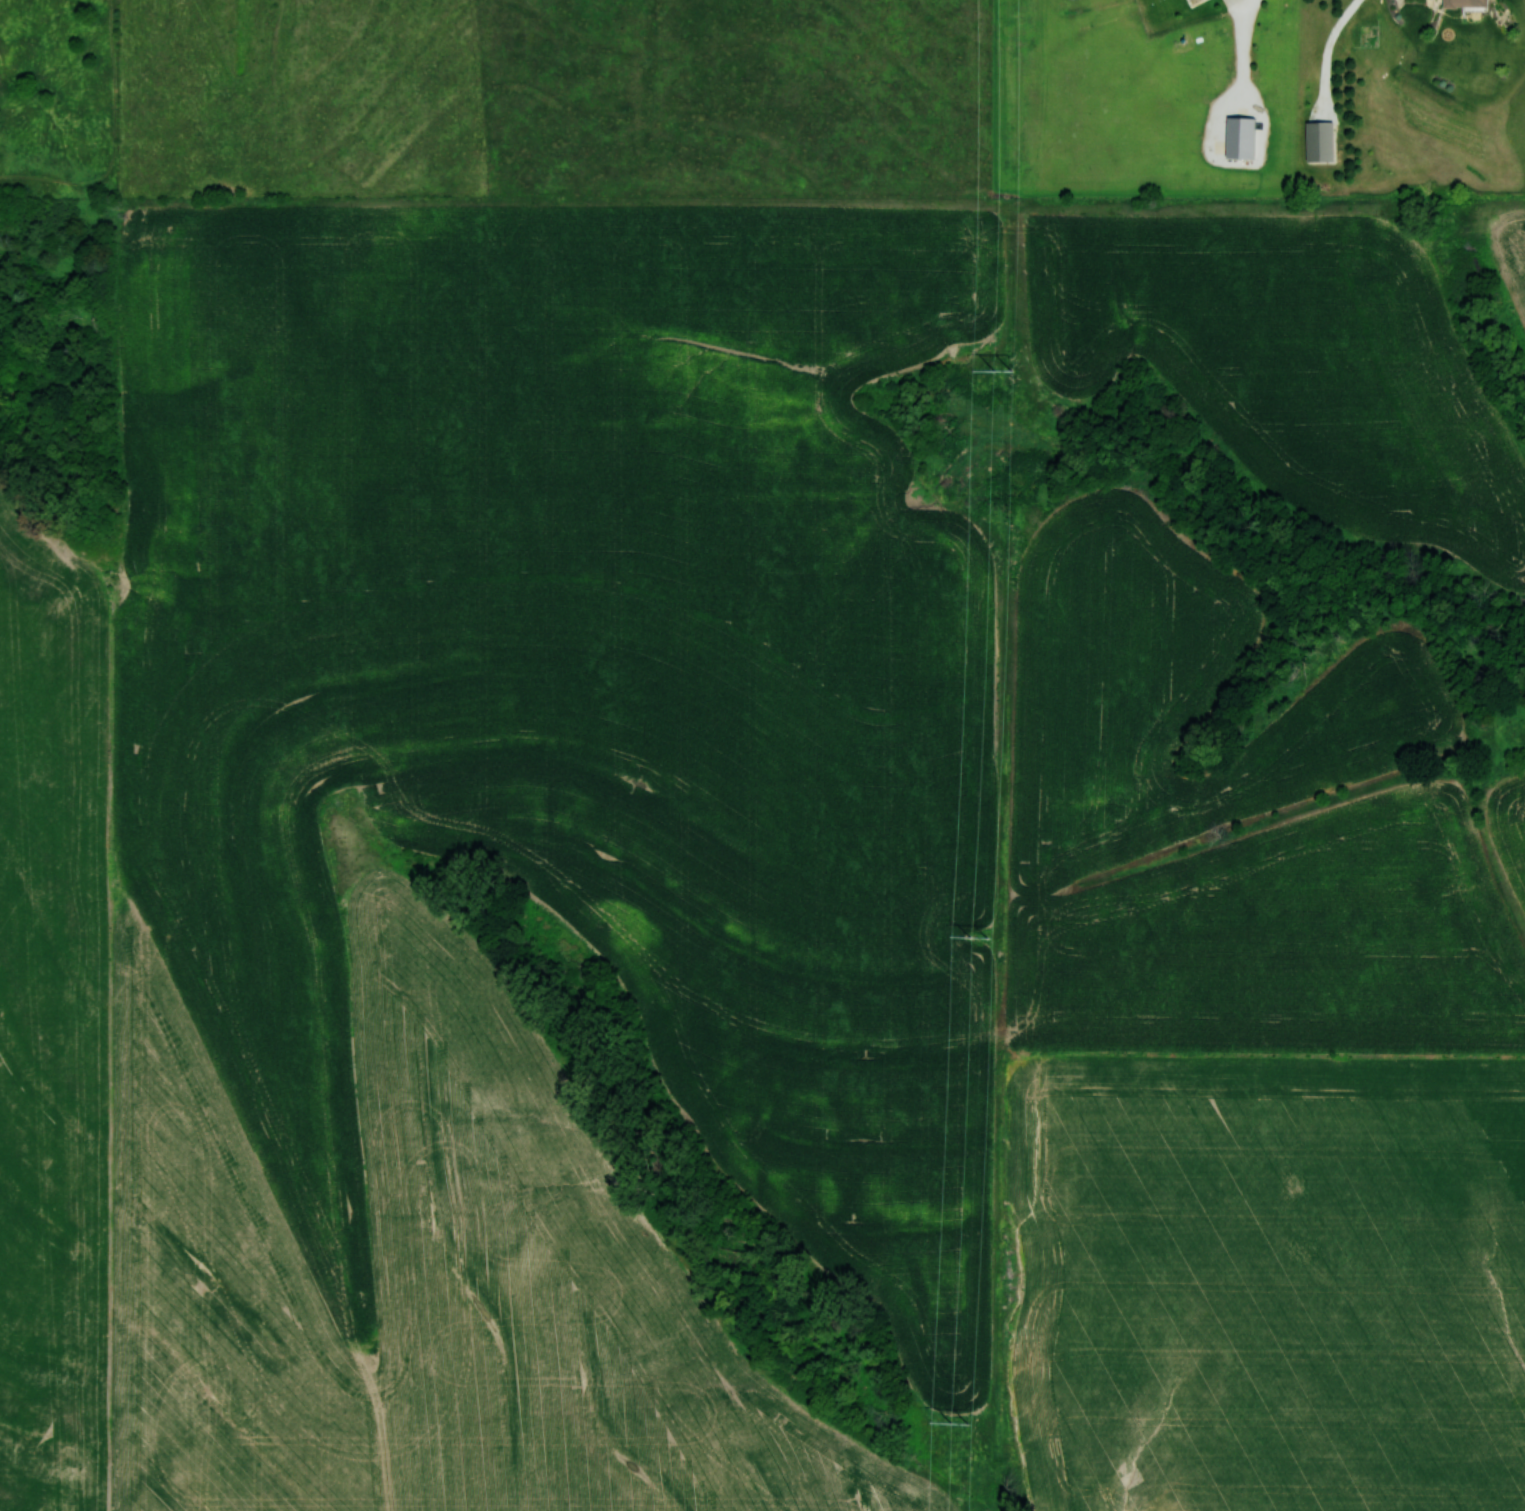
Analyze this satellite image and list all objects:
building: (1460, 4)
building: (1315, 142)
power tower: (1002, 374)
power tower: (977, 943)
power tower: (956, 1427)

